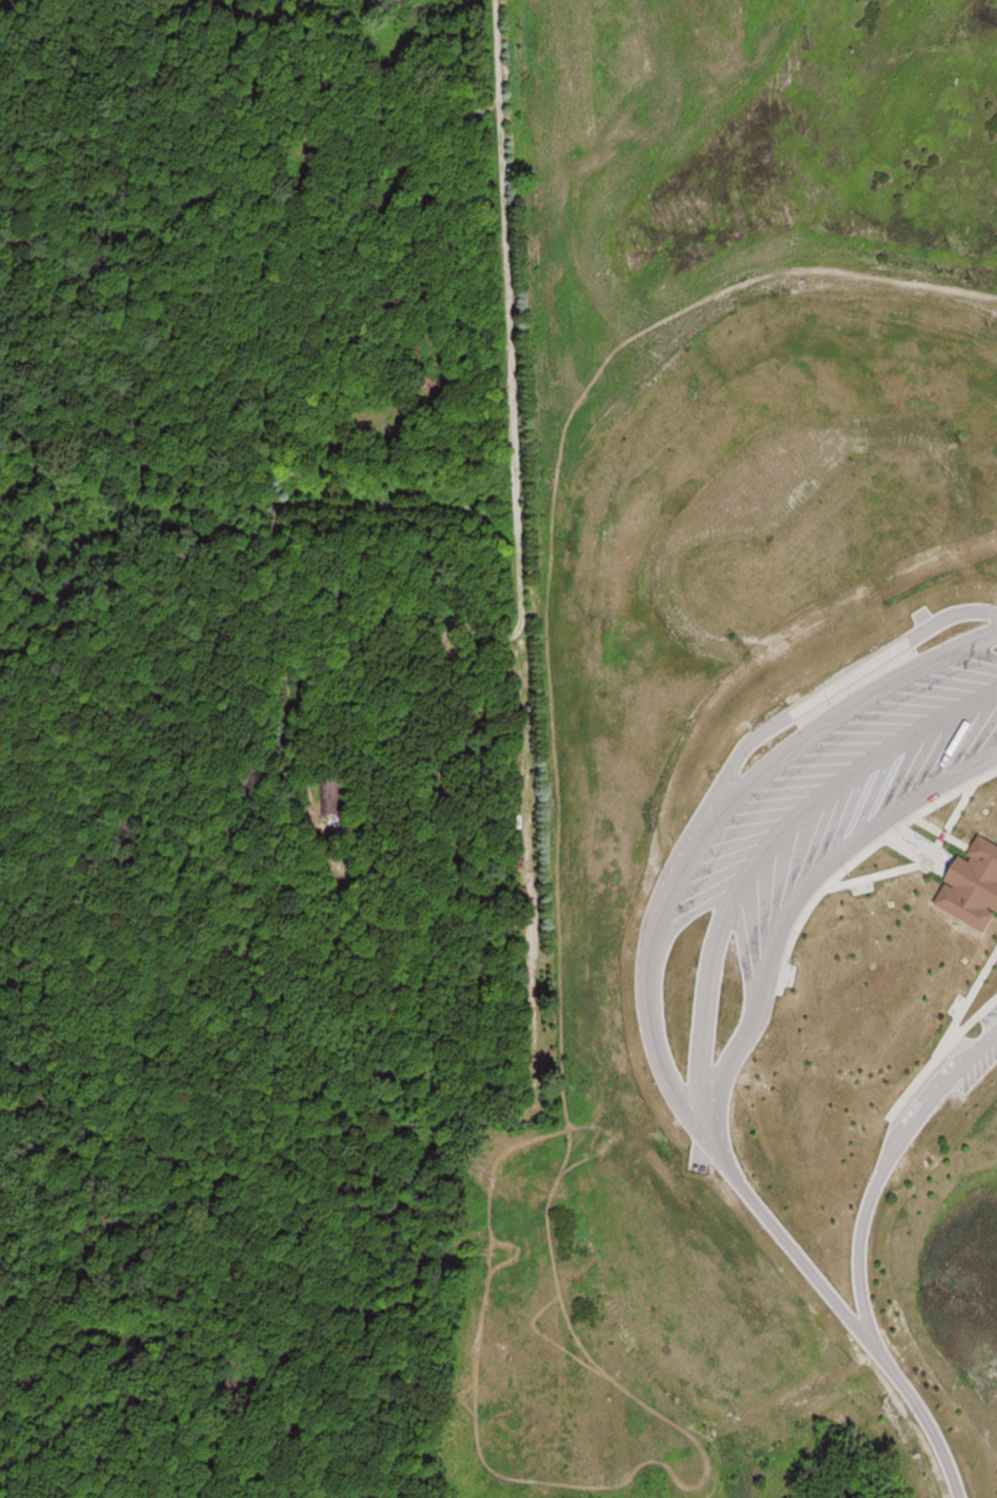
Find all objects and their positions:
road: (515, 465)
road: (833, 688)
building: (333, 795)
parking lot: (833, 799)
road: (709, 819)
road: (941, 834)
road: (923, 845)
road: (859, 857)
road: (920, 866)
building: (972, 877)
road: (798, 902)
road: (711, 972)
road: (966, 1002)
road: (939, 1055)
parking lot: (982, 1056)
road: (888, 1170)
road: (925, 1413)

